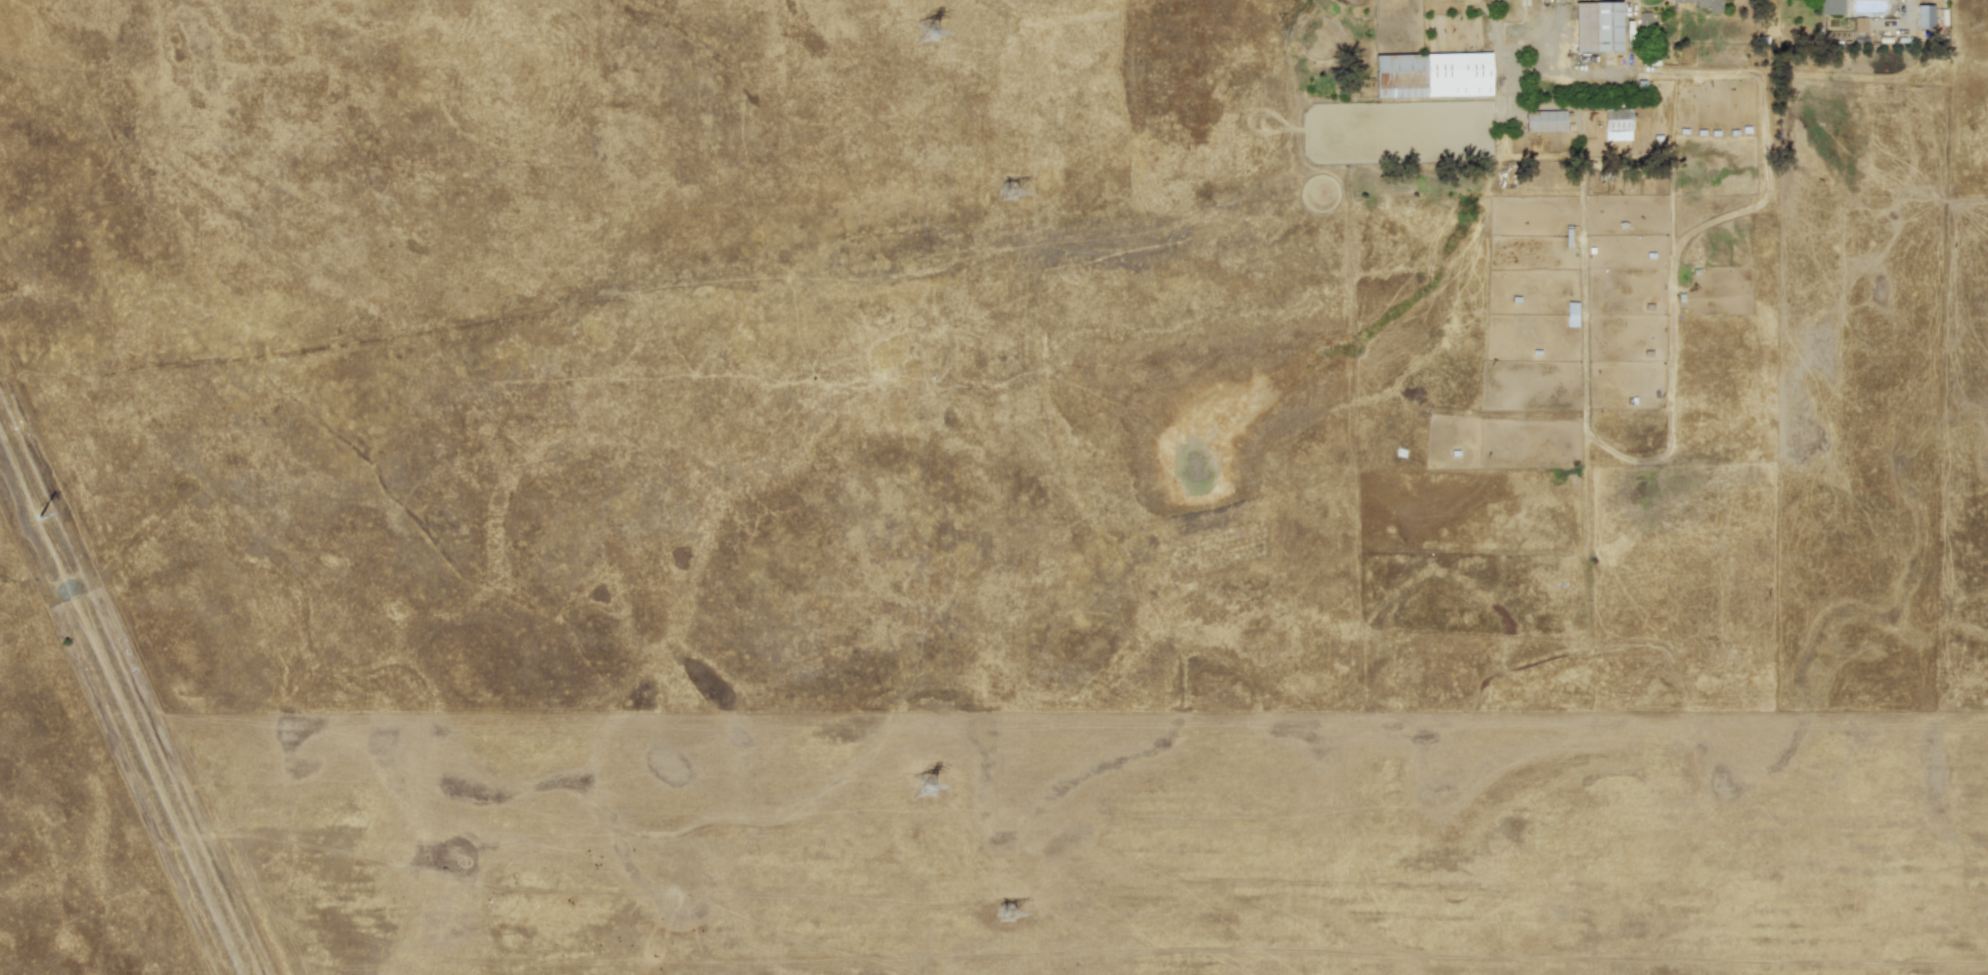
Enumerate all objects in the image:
building: (1706, 4)
building: (1832, 7)
building: (1923, 16)
building: (1643, 19)
building: (1597, 26)
building: (1859, 28)
road: (1628, 29)
power tower: (932, 35)
building: (1433, 74)
building: (1545, 121)
building: (1617, 124)
power tower: (1009, 193)
power tower: (929, 787)
power tower: (1010, 916)

